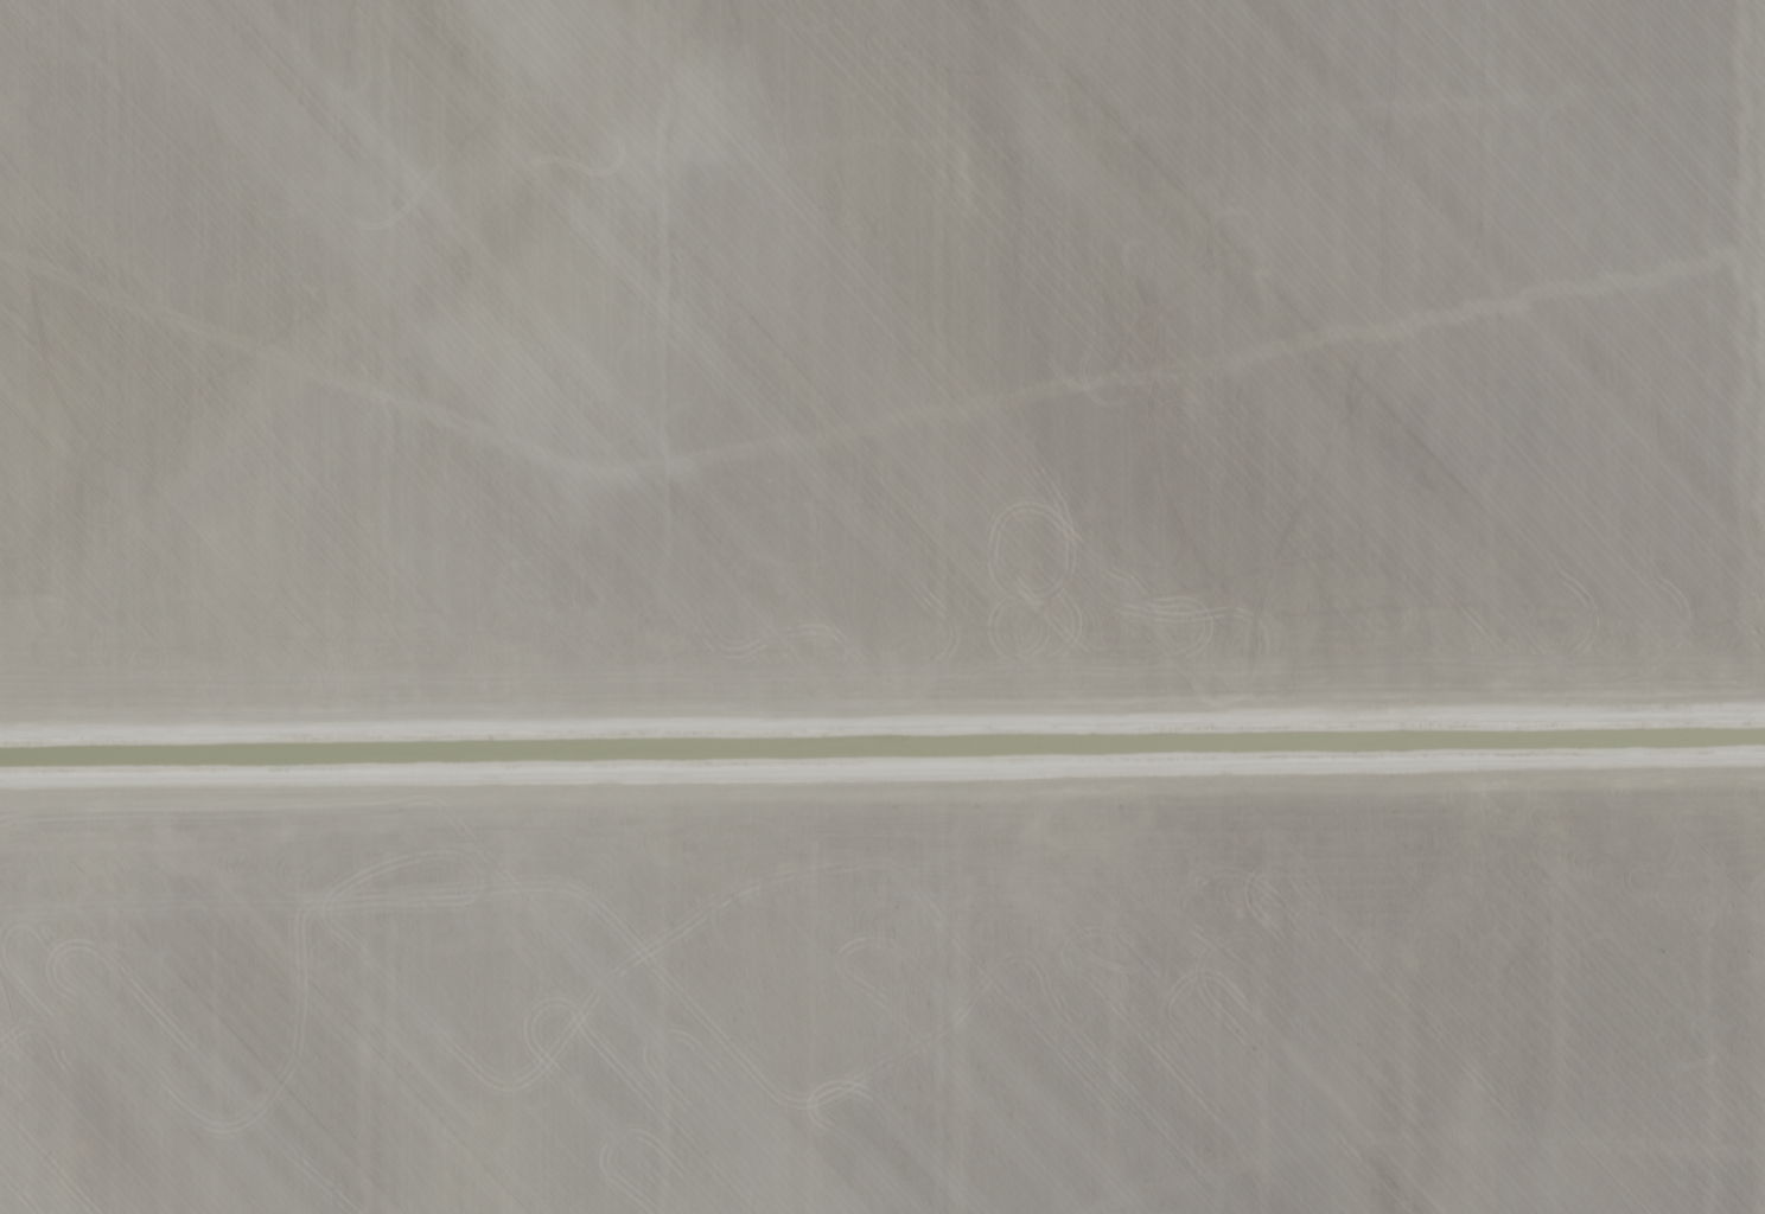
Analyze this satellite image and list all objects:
road: (882, 768)

